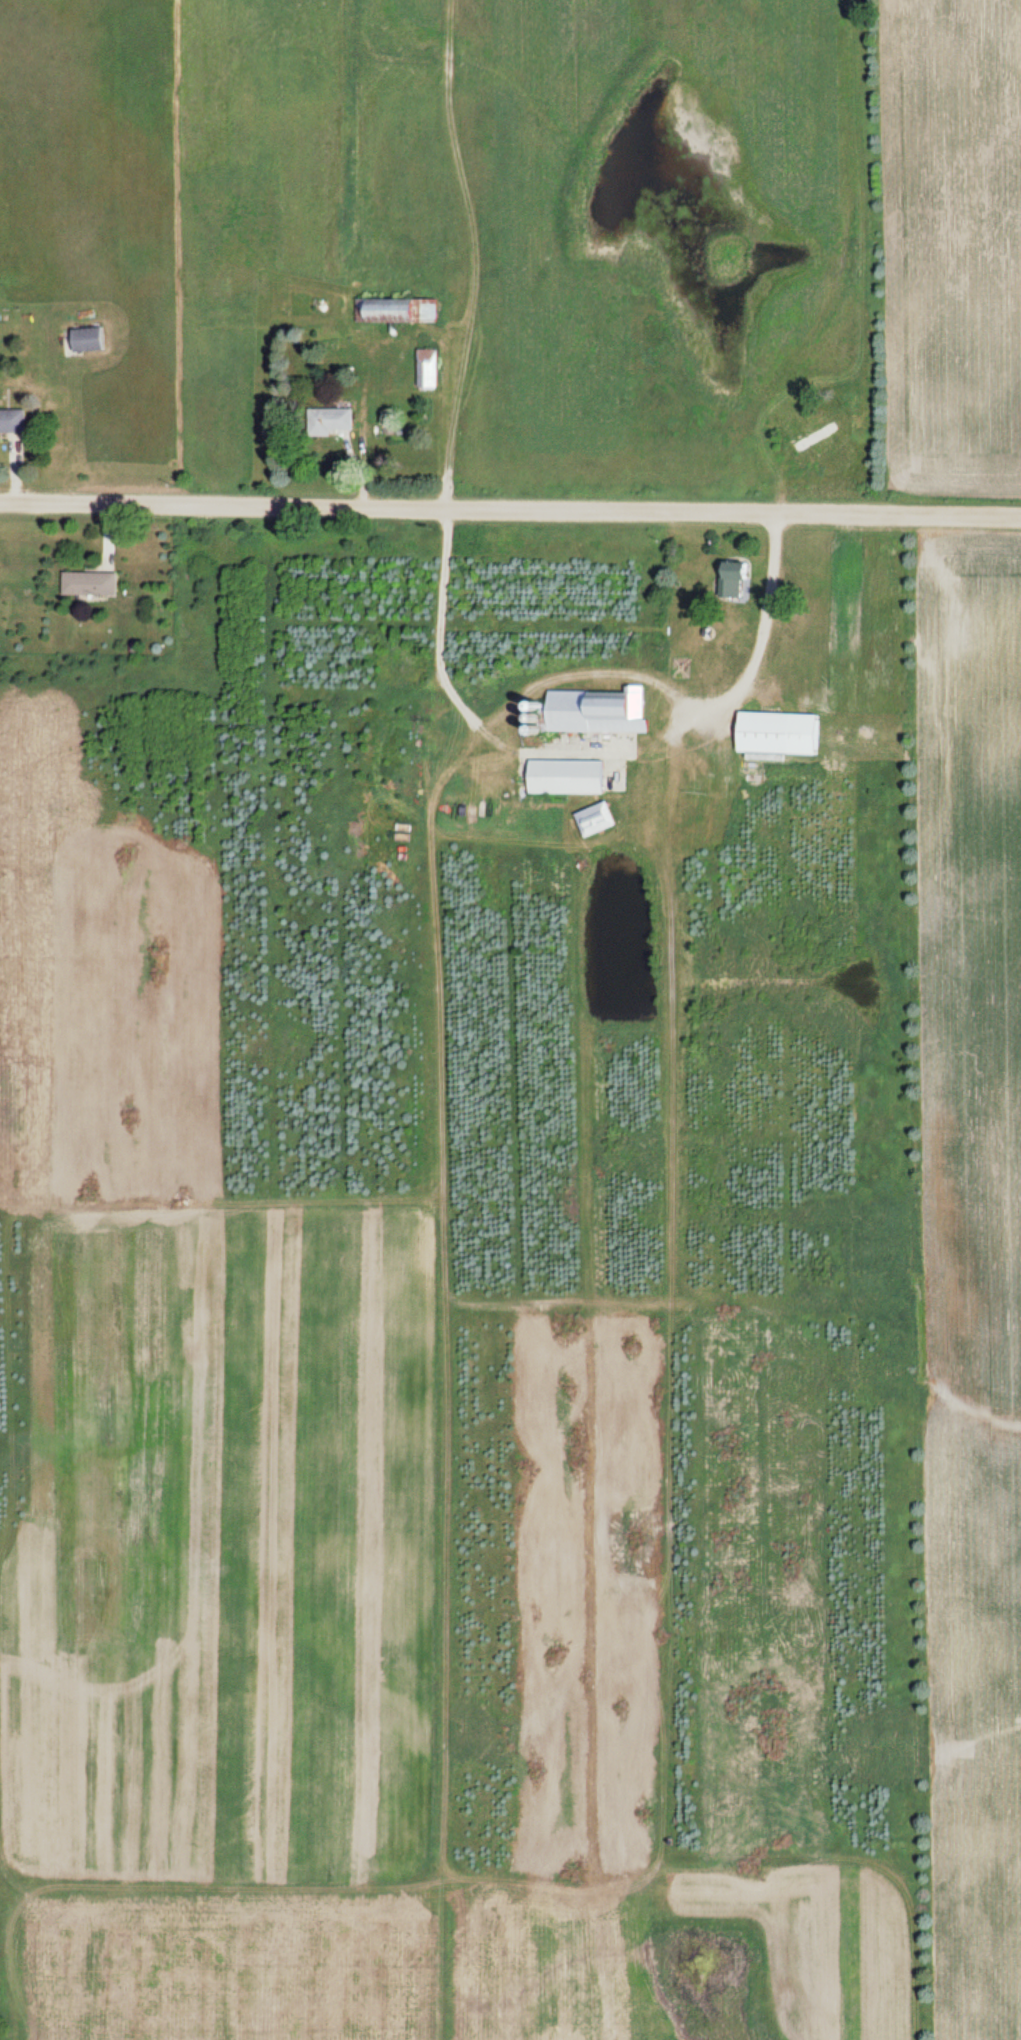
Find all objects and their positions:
building: (394, 309)
building: (84, 338)
building: (425, 367)
building: (328, 420)
building: (11, 421)
building: (813, 435)
road: (510, 507)
building: (731, 578)
building: (86, 582)
building: (594, 710)
building: (776, 732)
building: (564, 776)
building: (593, 818)

